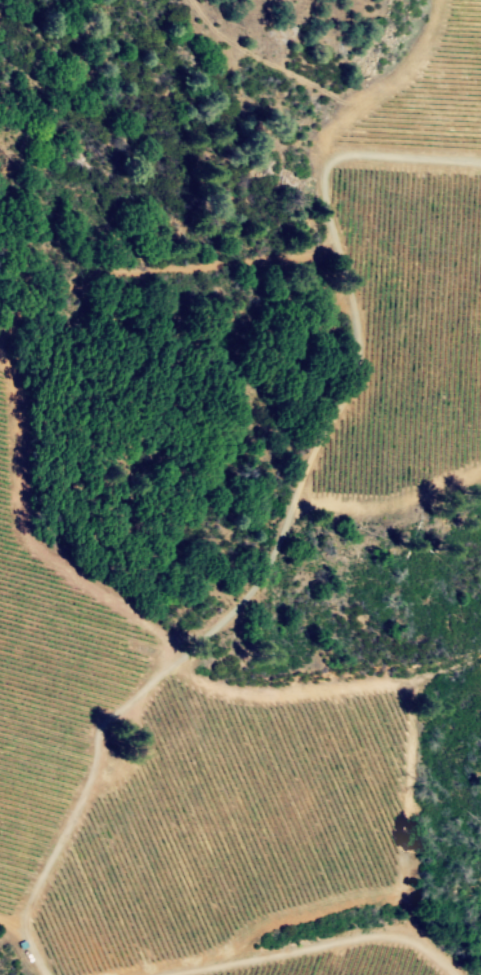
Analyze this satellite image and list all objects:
road: (413, 104)

